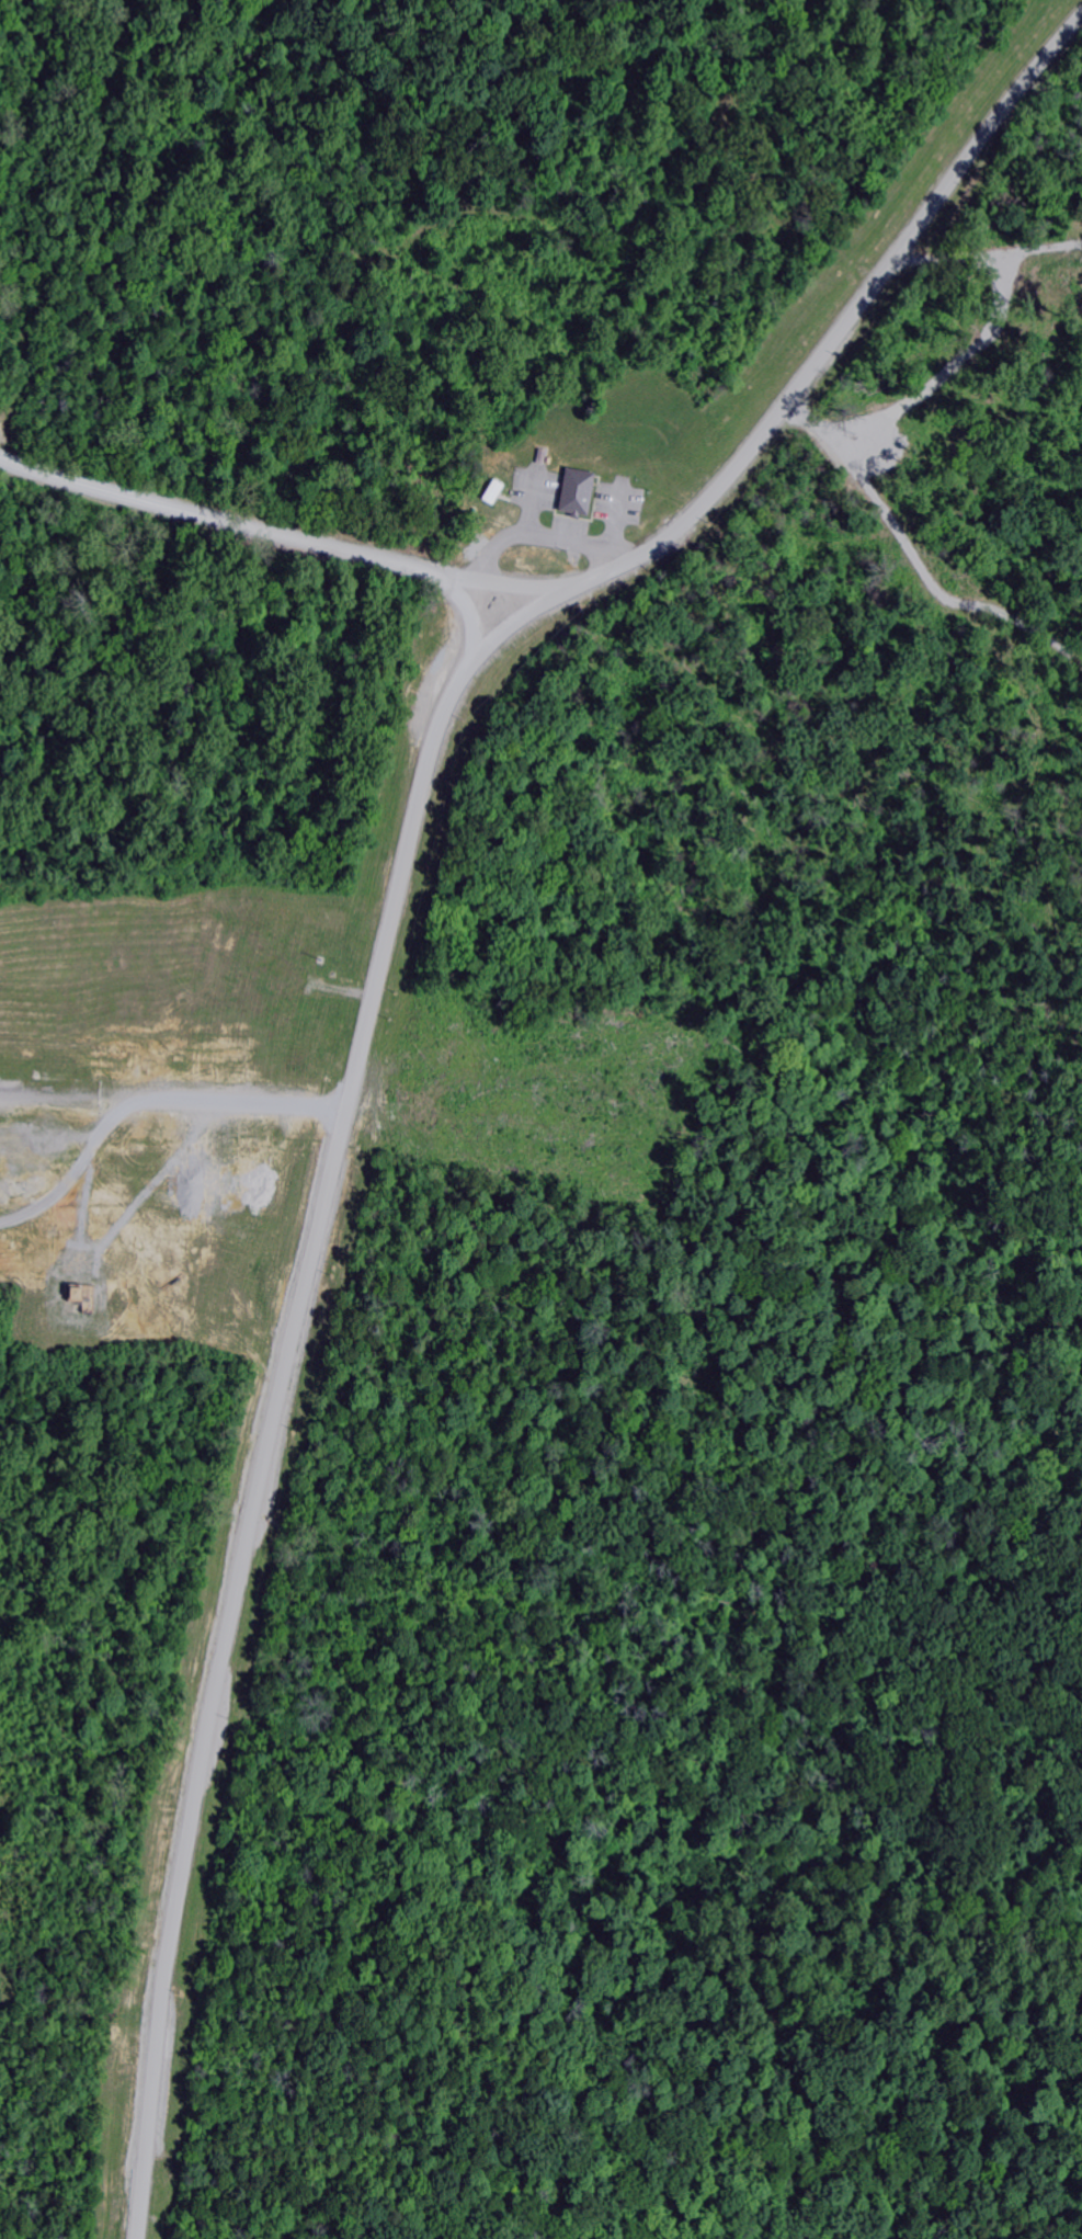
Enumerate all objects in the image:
road: (847, 320)
building: (566, 495)
road: (285, 538)
road: (145, 1103)
road: (282, 1376)

